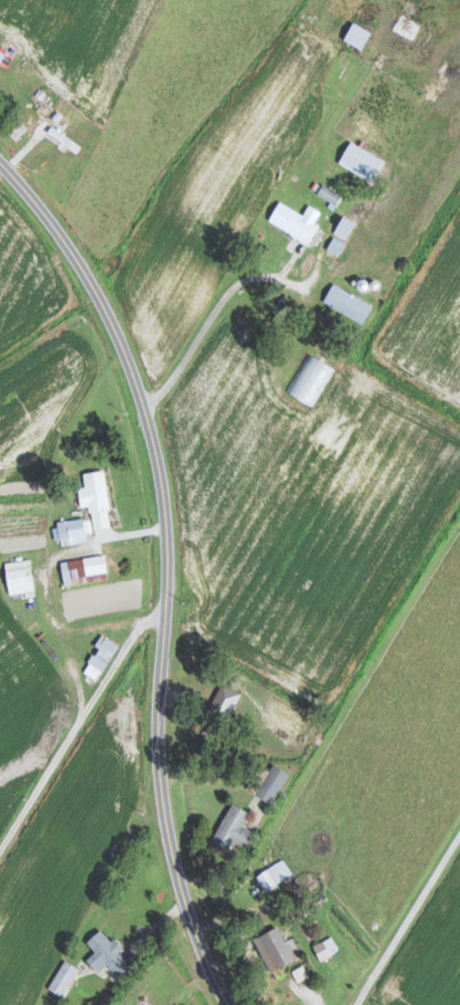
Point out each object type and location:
building: (353, 35)
building: (13, 129)
building: (357, 160)
building: (326, 194)
building: (289, 222)
building: (339, 227)
road: (202, 299)
building: (344, 303)
building: (306, 378)
building: (92, 489)
building: (68, 530)
building: (85, 567)
road: (167, 568)
building: (99, 651)
building: (220, 701)
building: (269, 782)
building: (229, 828)
building: (270, 873)
building: (270, 947)
building: (323, 947)
building: (104, 954)
building: (60, 977)

